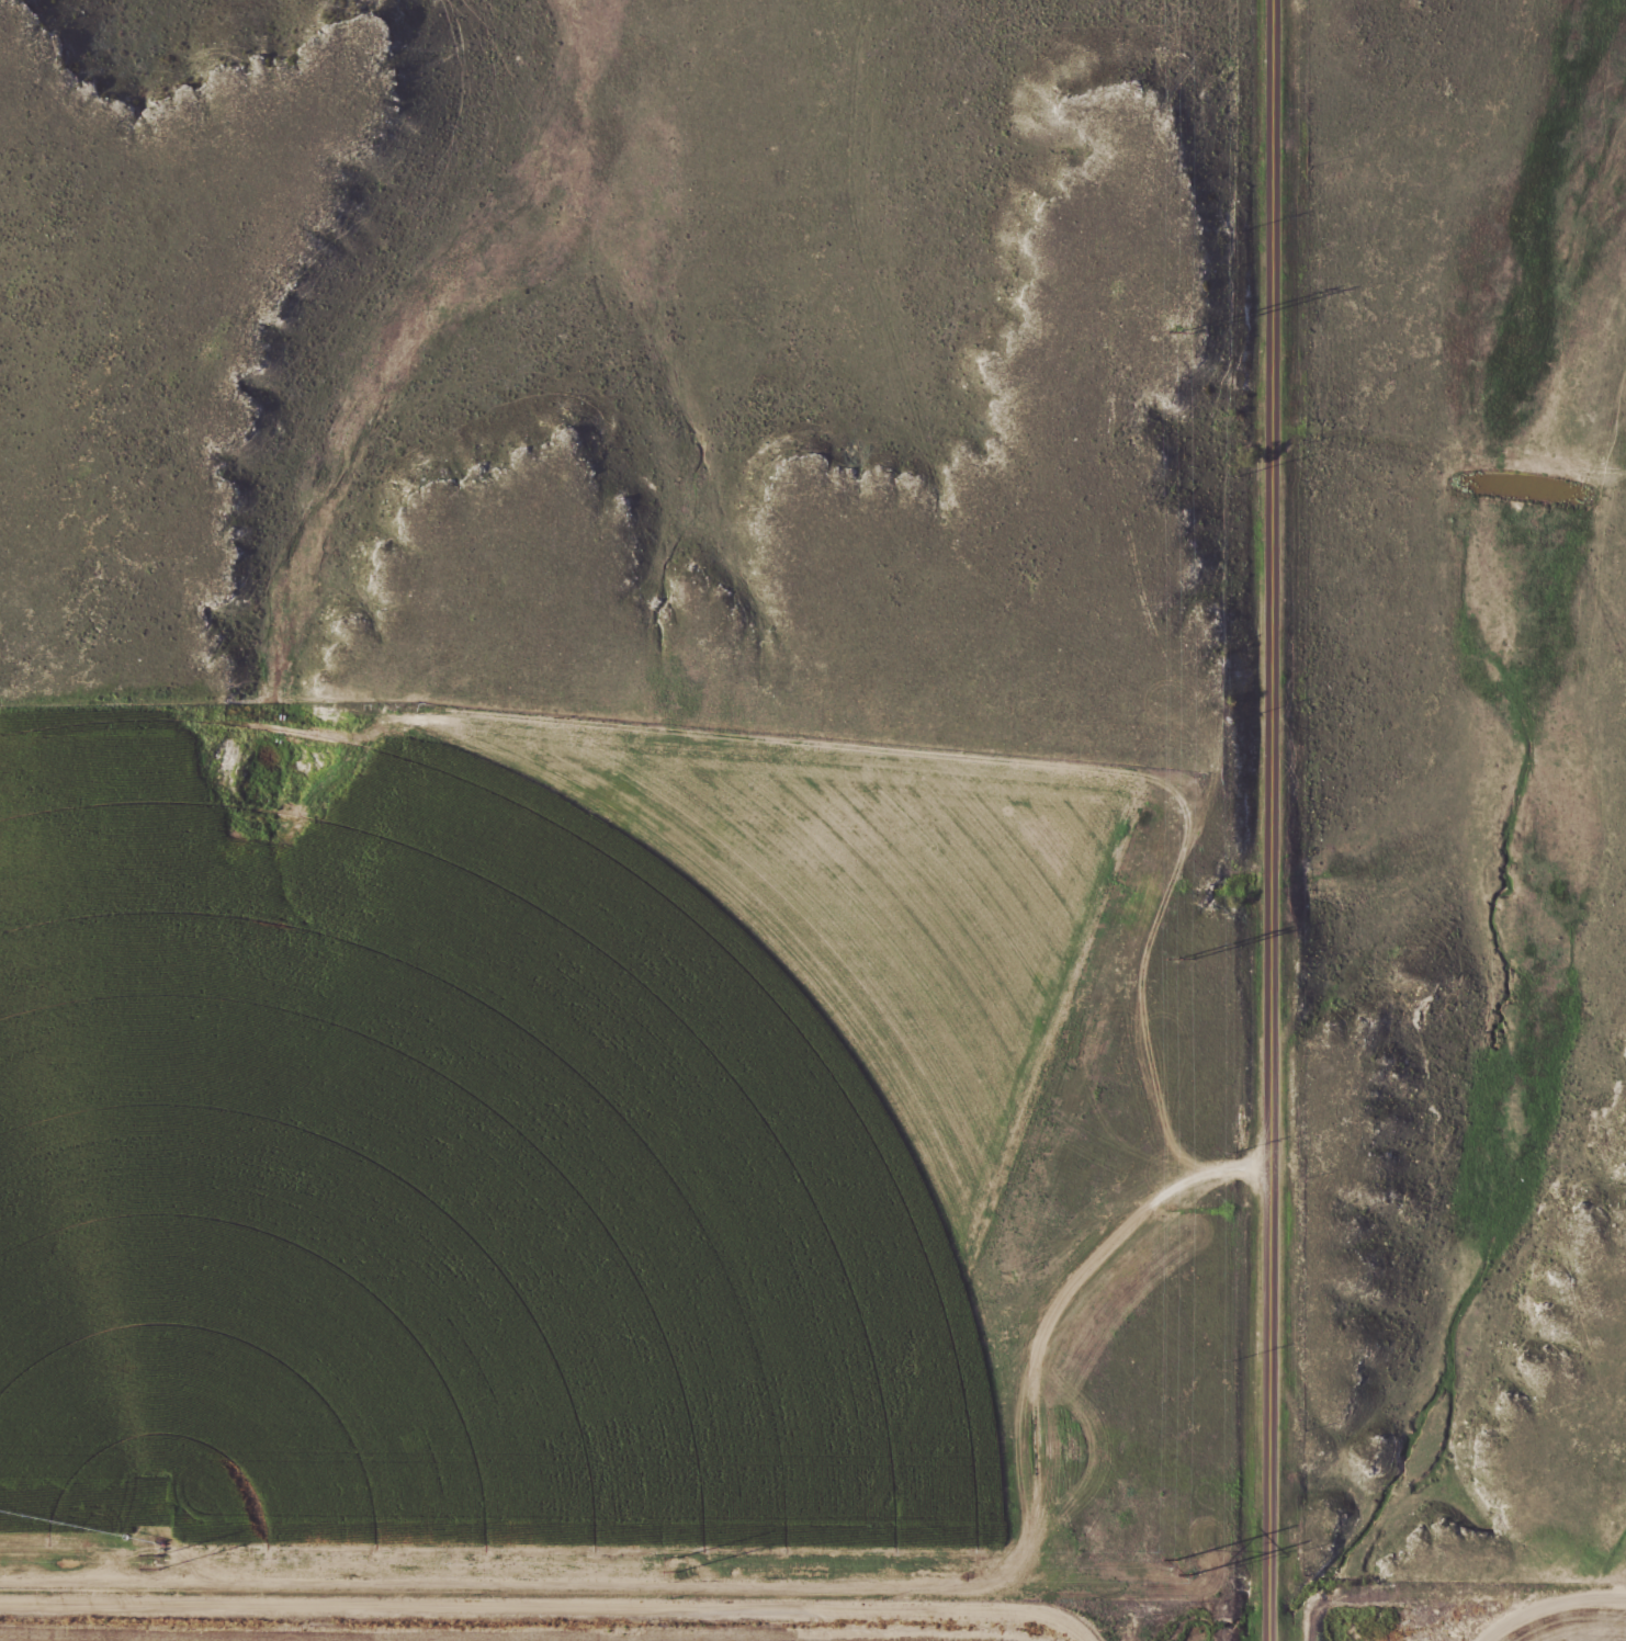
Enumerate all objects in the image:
power tower: (1182, 330)
road: (1276, 820)
power tower: (1181, 960)
power tower: (159, 1561)
power tower: (676, 1565)
power tower: (1179, 1568)

